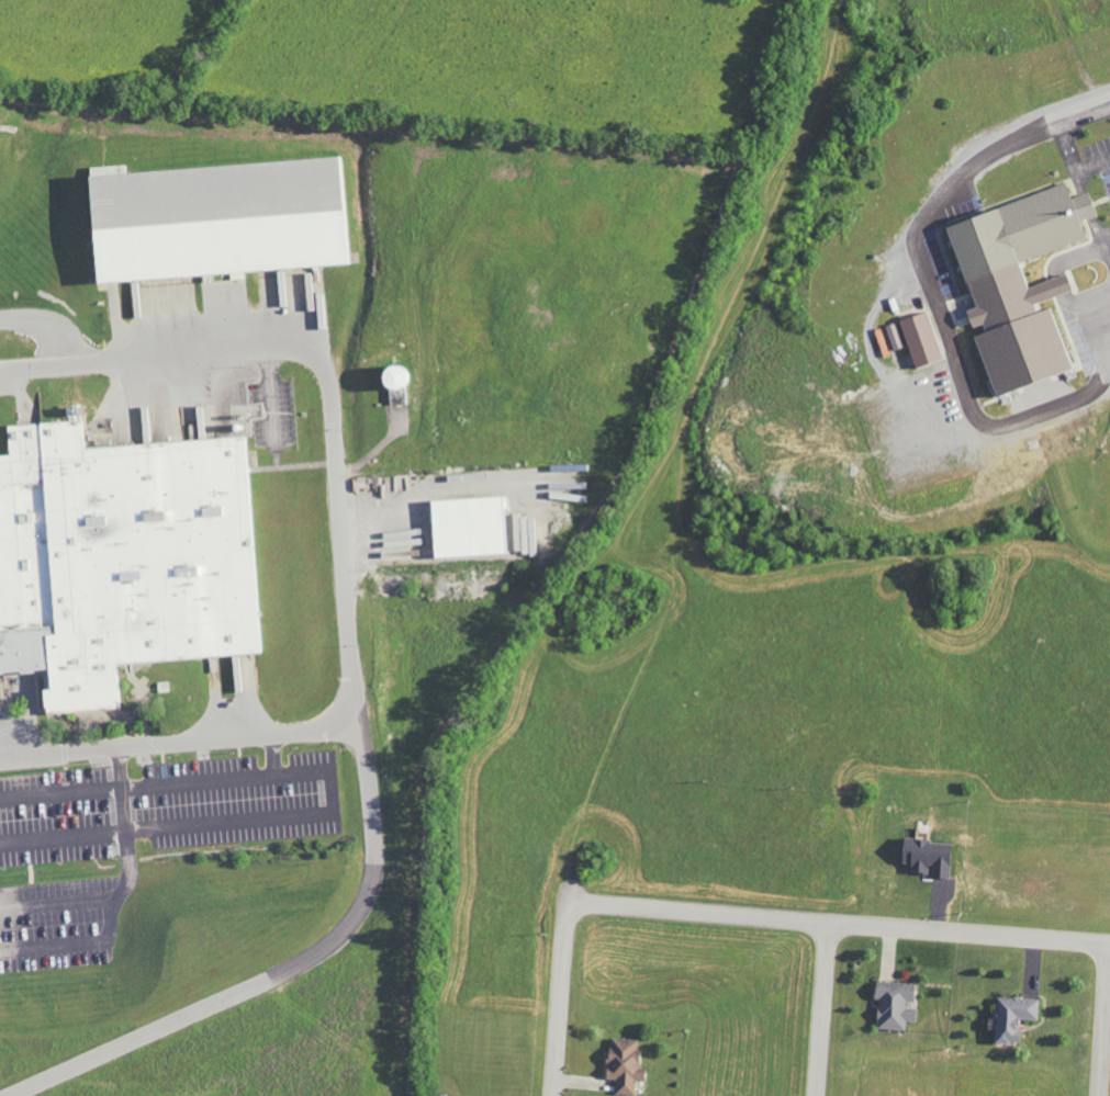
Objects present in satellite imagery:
road: (1068, 138)
building: (215, 218)
building: (1016, 281)
road: (942, 326)
building: (895, 336)
building: (919, 339)
building: (392, 383)
building: (466, 526)
building: (525, 535)
road: (339, 550)
building: (120, 556)
road: (271, 755)
road: (357, 759)
road: (120, 789)
road: (328, 793)
building: (924, 857)
road: (58, 904)
road: (741, 917)
road: (106, 936)
road: (234, 991)
building: (892, 1005)
road: (820, 1009)
road: (1102, 1020)
building: (623, 1064)

